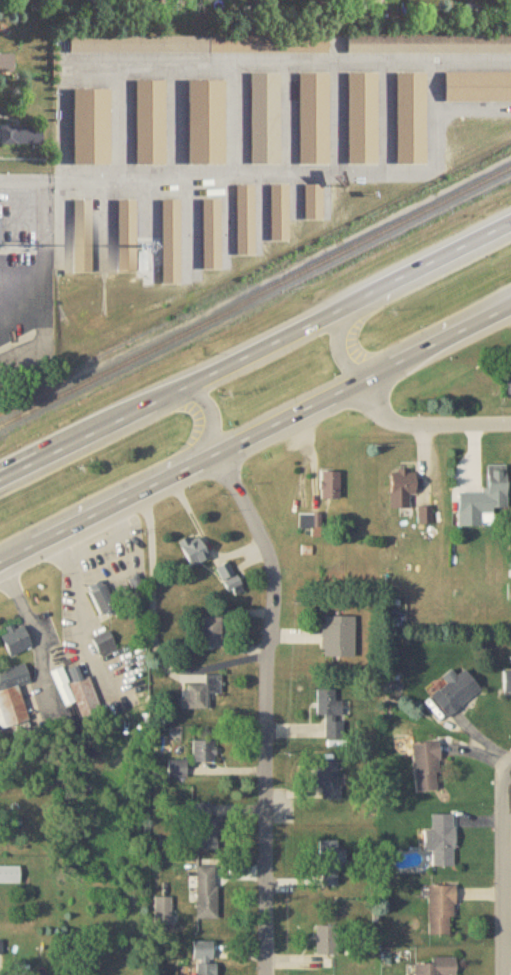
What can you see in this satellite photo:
building: (196, 39)
building: (428, 39)
road: (432, 62)
road: (472, 62)
building: (6, 65)
building: (477, 83)
road: (473, 109)
building: (262, 114)
building: (314, 114)
building: (361, 114)
building: (410, 115)
building: (148, 116)
building: (205, 116)
road: (336, 118)
road: (386, 118)
road: (289, 119)
road: (234, 120)
road: (118, 121)
road: (175, 121)
building: (88, 122)
building: (25, 137)
road: (31, 179)
building: (313, 199)
parking lot: (27, 208)
building: (277, 208)
building: (244, 216)
building: (0, 230)
building: (82, 230)
building: (124, 230)
building: (211, 230)
building: (170, 235)
railway: (255, 296)
road: (339, 337)
road: (255, 351)
road: (425, 423)
road: (255, 432)
road: (203, 444)
building: (402, 483)
building: (329, 484)
building: (489, 494)
building: (310, 520)
building: (192, 550)
building: (230, 579)
building: (102, 599)
road: (85, 615)
road: (154, 630)
road: (37, 631)
building: (211, 632)
building: (338, 636)
building: (15, 640)
building: (104, 644)
building: (507, 683)
building: (455, 691)
building: (200, 693)
building: (12, 695)
building: (81, 699)
road: (267, 706)
building: (332, 715)
building: (203, 751)
building: (427, 767)
building: (177, 769)
building: (328, 780)
road: (507, 813)
building: (205, 826)
building: (440, 840)
building: (331, 863)
road: (504, 869)
building: (10, 875)
building: (207, 893)
building: (441, 911)
building: (327, 941)
building: (1, 948)
building: (203, 951)
building: (435, 967)
building: (207, 969)

